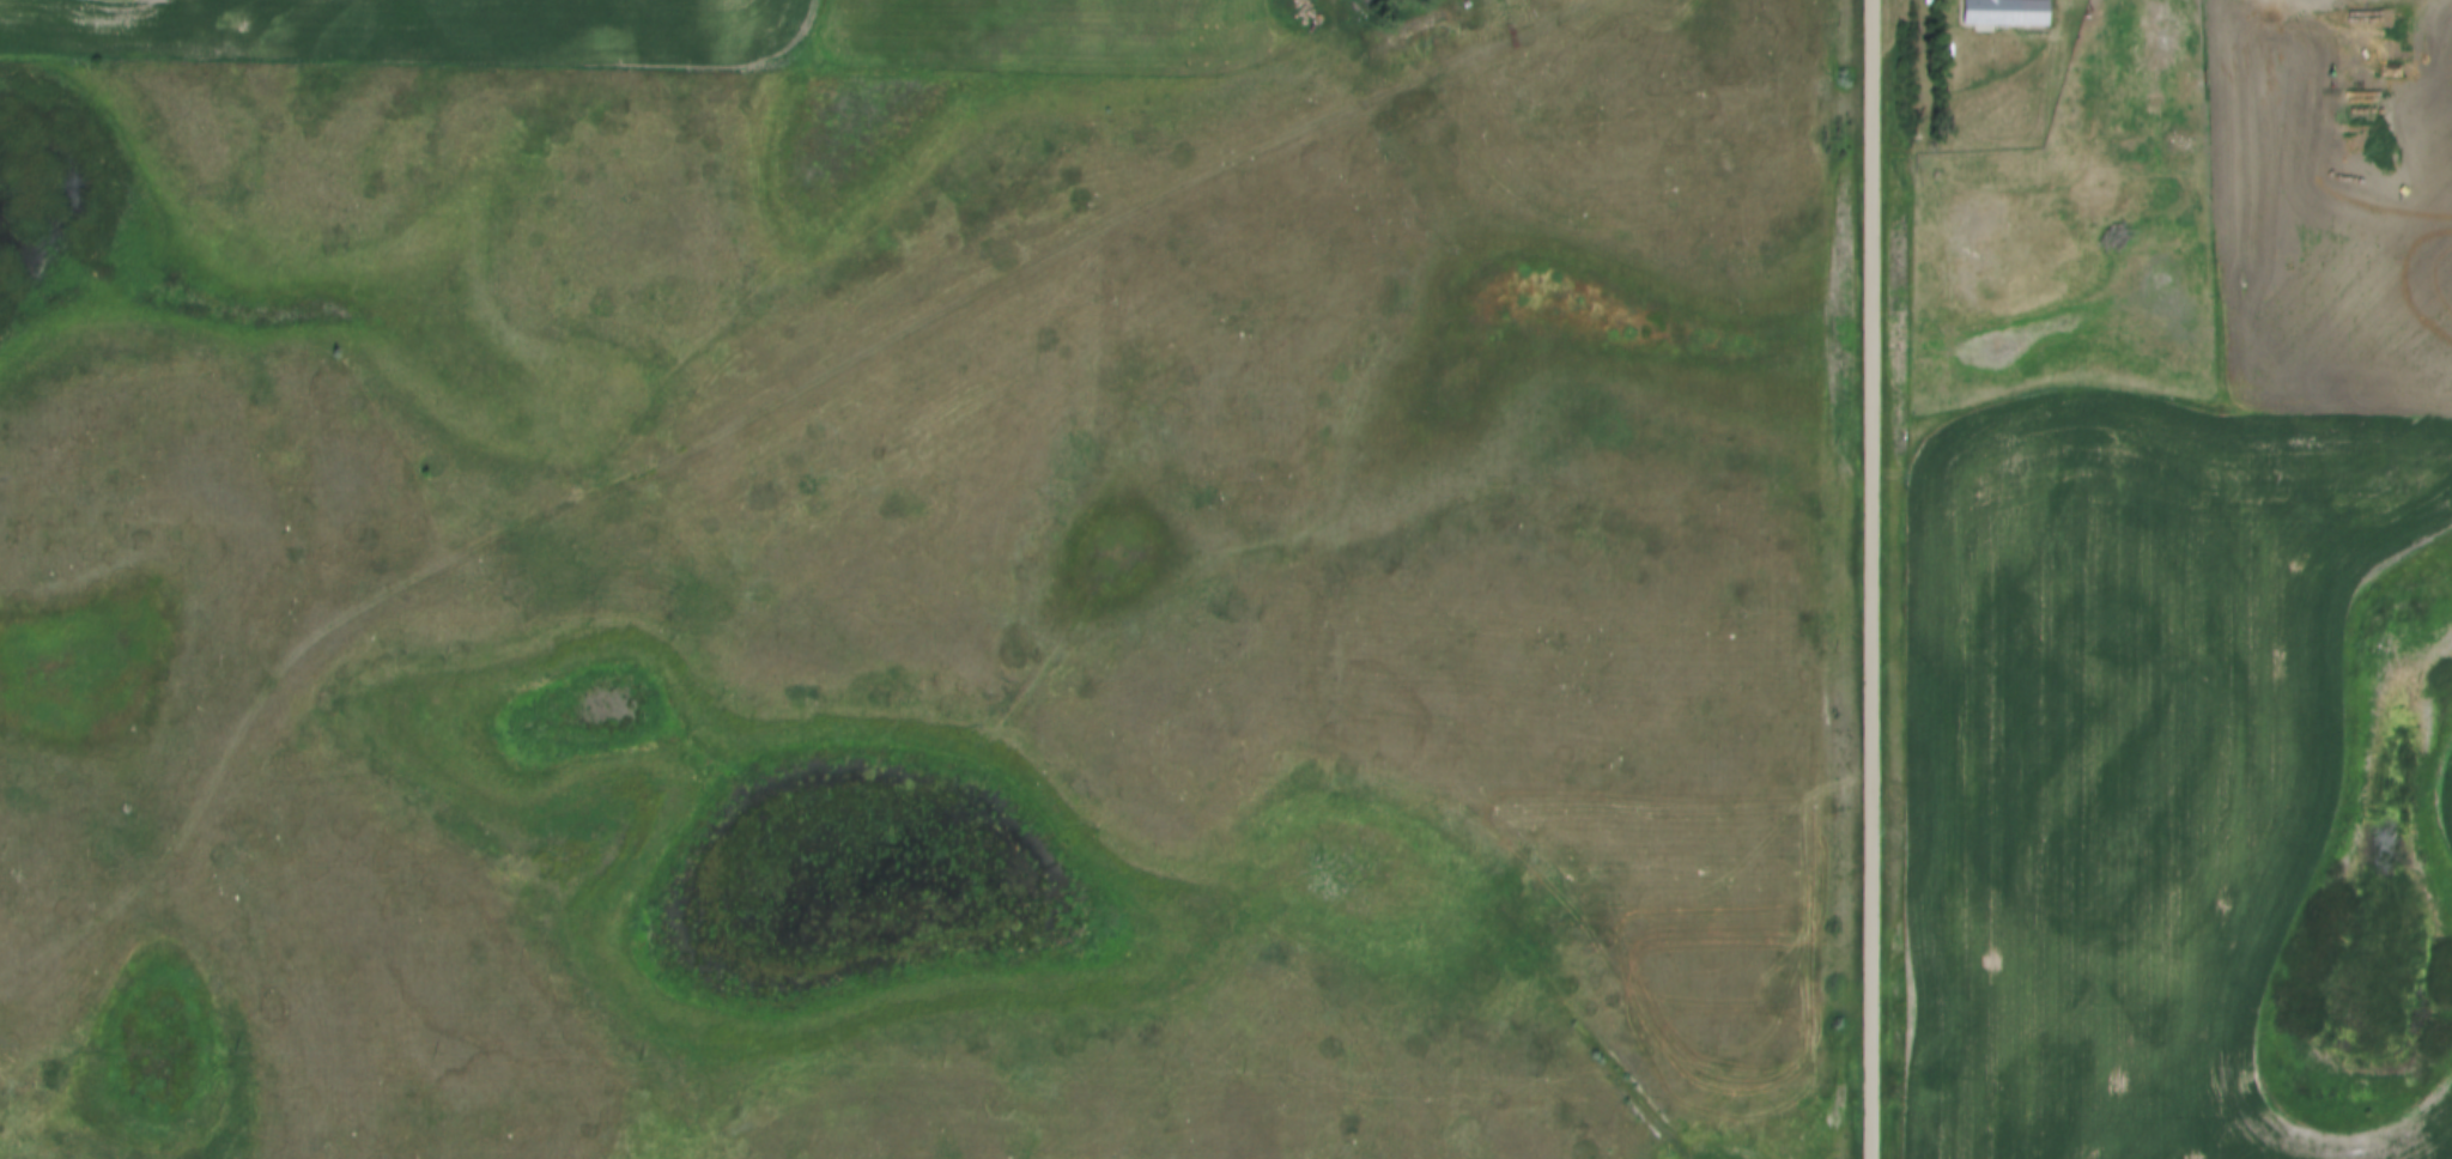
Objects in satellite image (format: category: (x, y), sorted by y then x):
building: (1989, 14)
road: (1870, 579)

